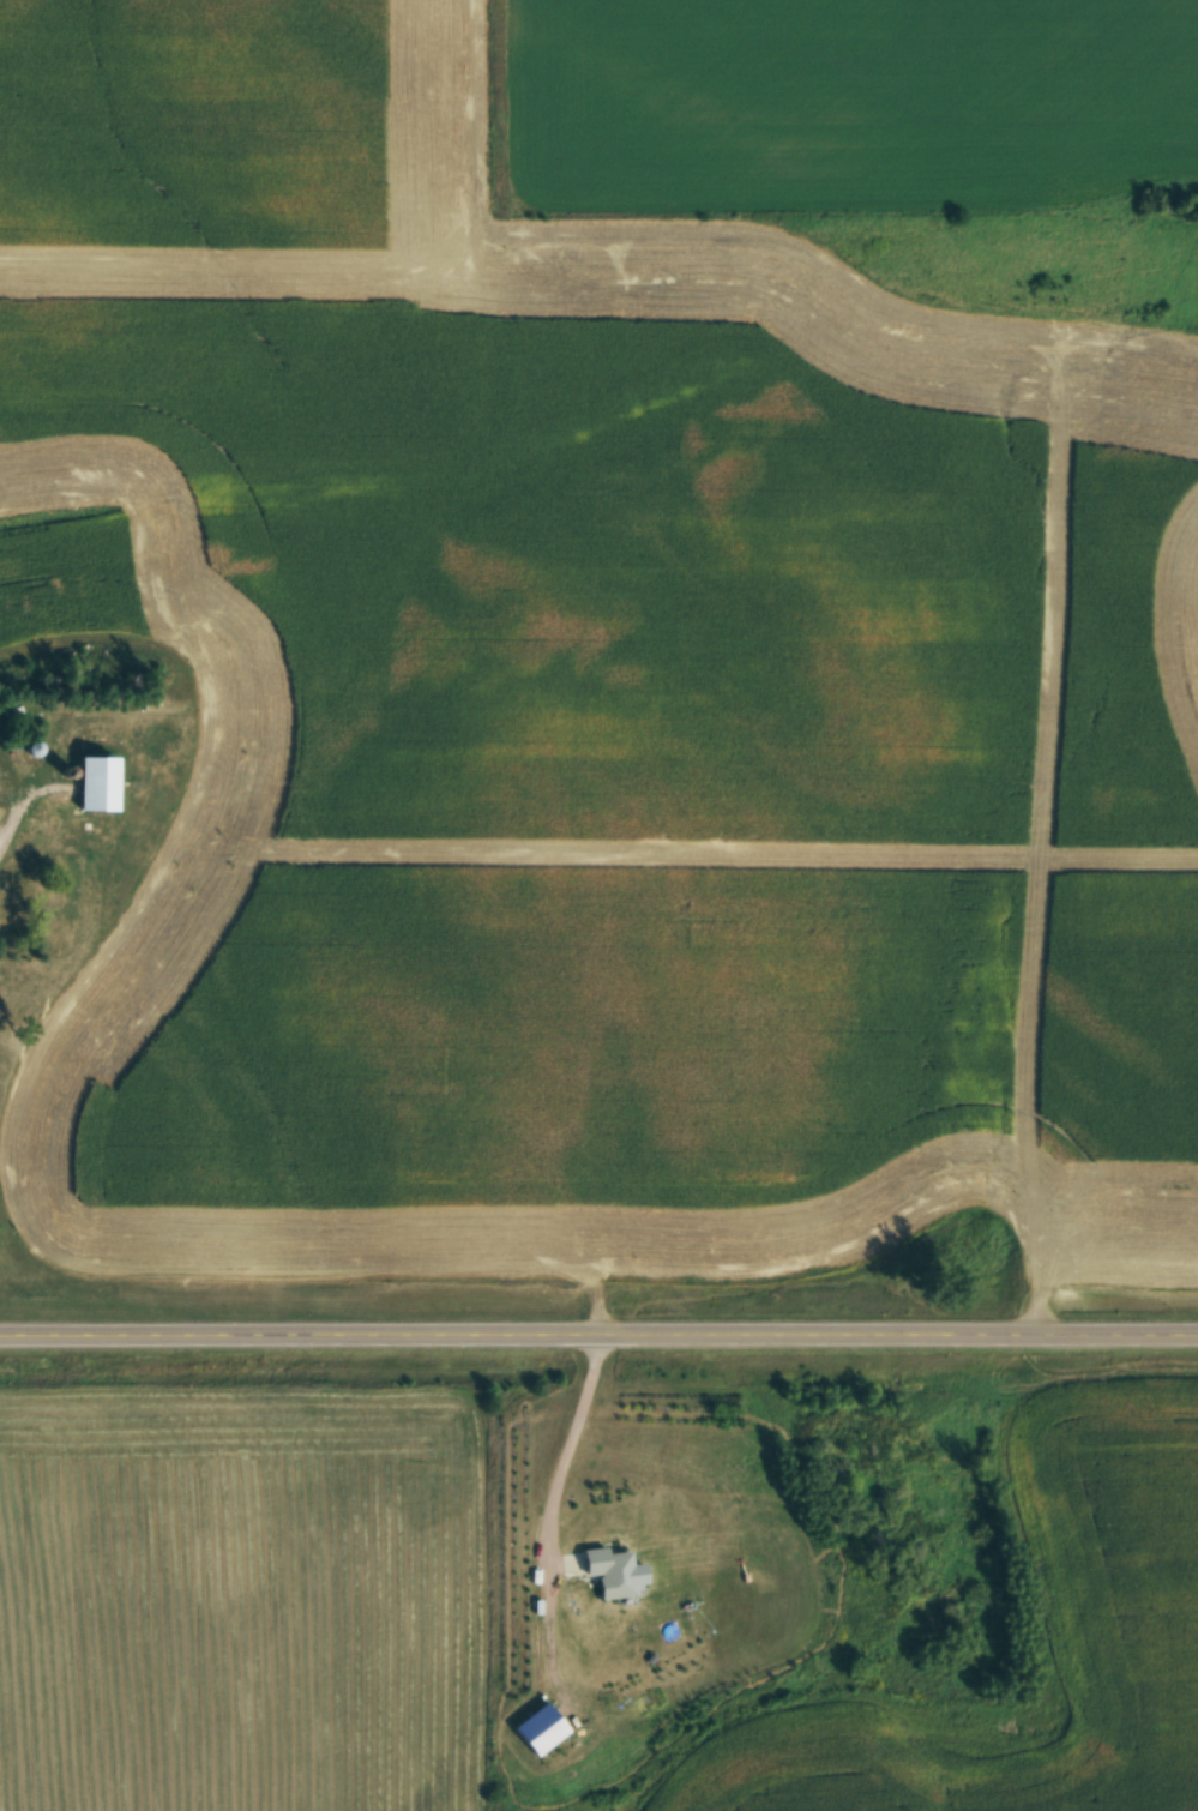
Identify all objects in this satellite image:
building: (90, 782)
road: (10, 812)
road: (598, 1328)
road: (568, 1451)
building: (598, 1570)

